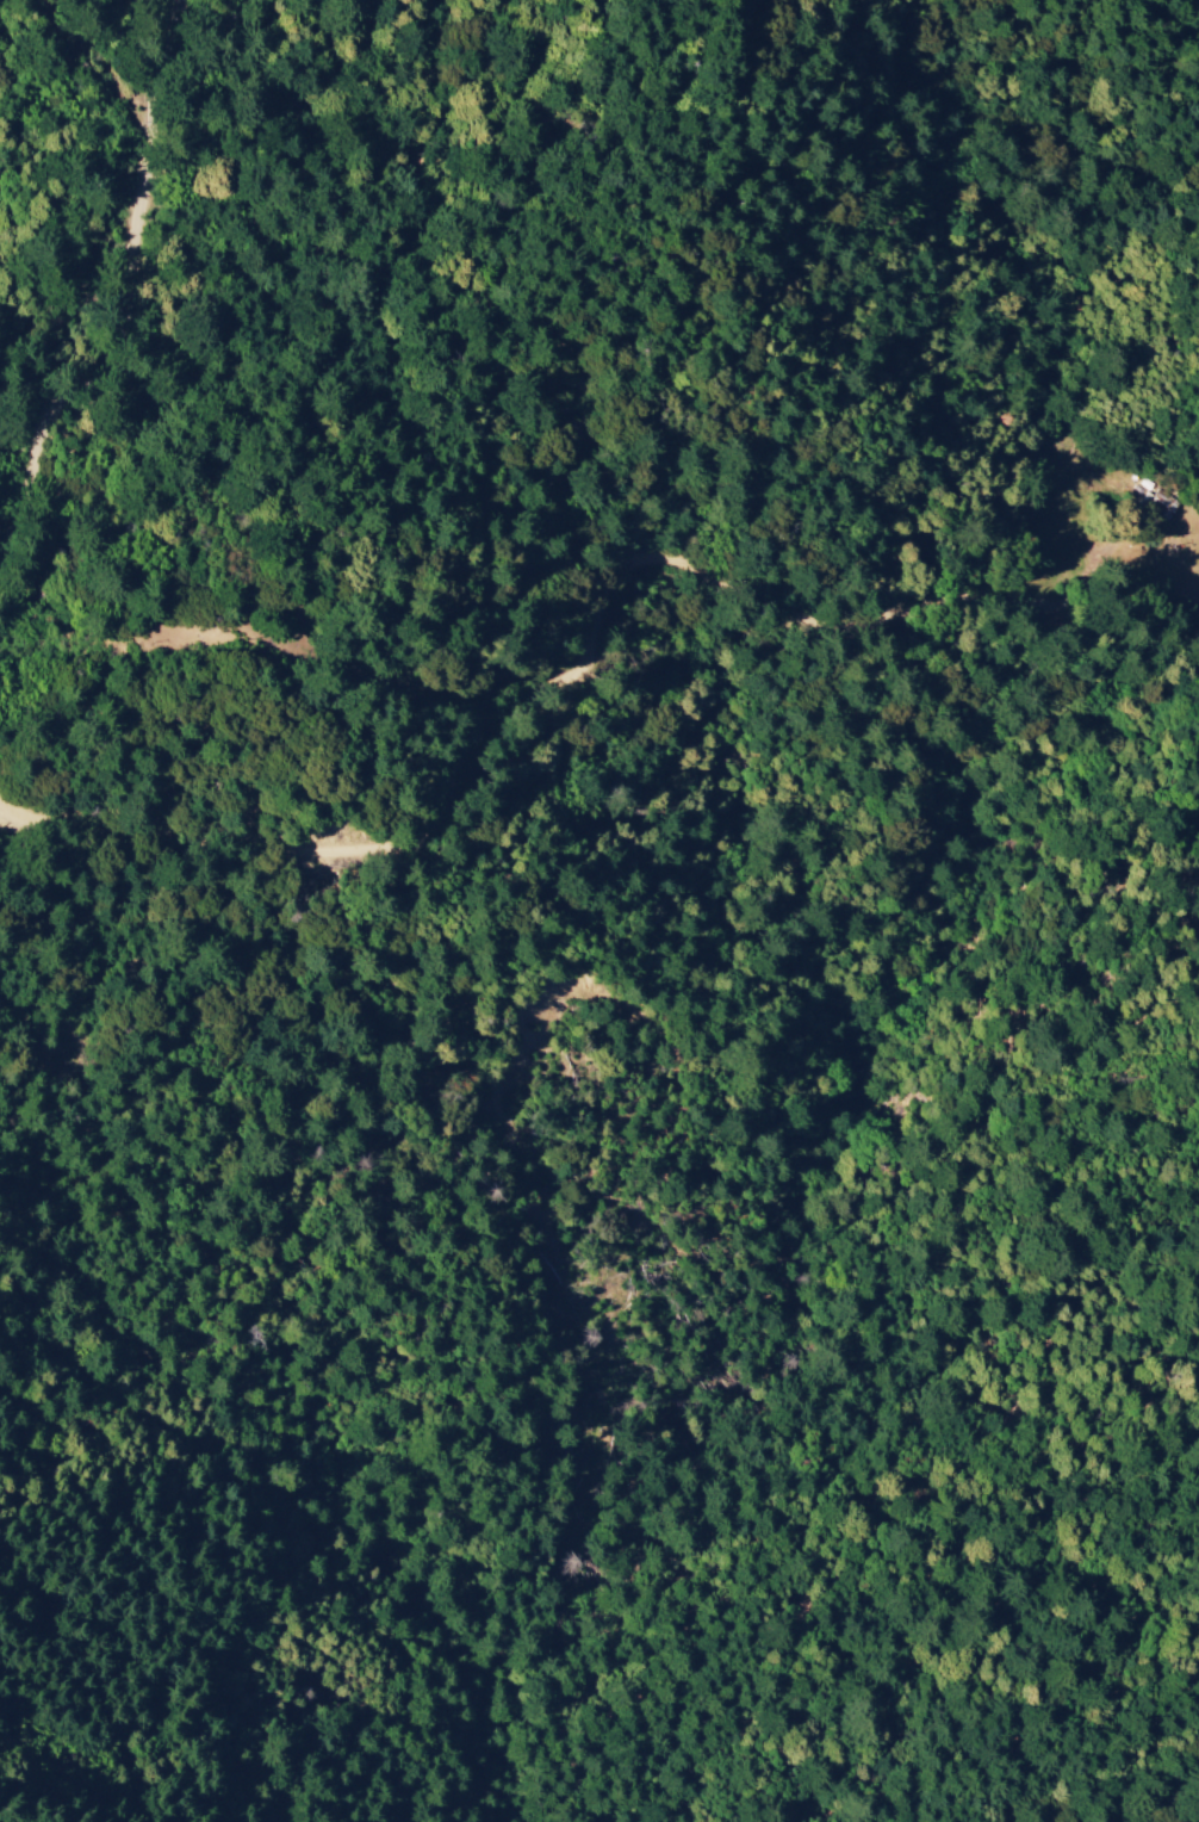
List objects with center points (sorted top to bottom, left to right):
road: (97, 275)
road: (585, 662)

